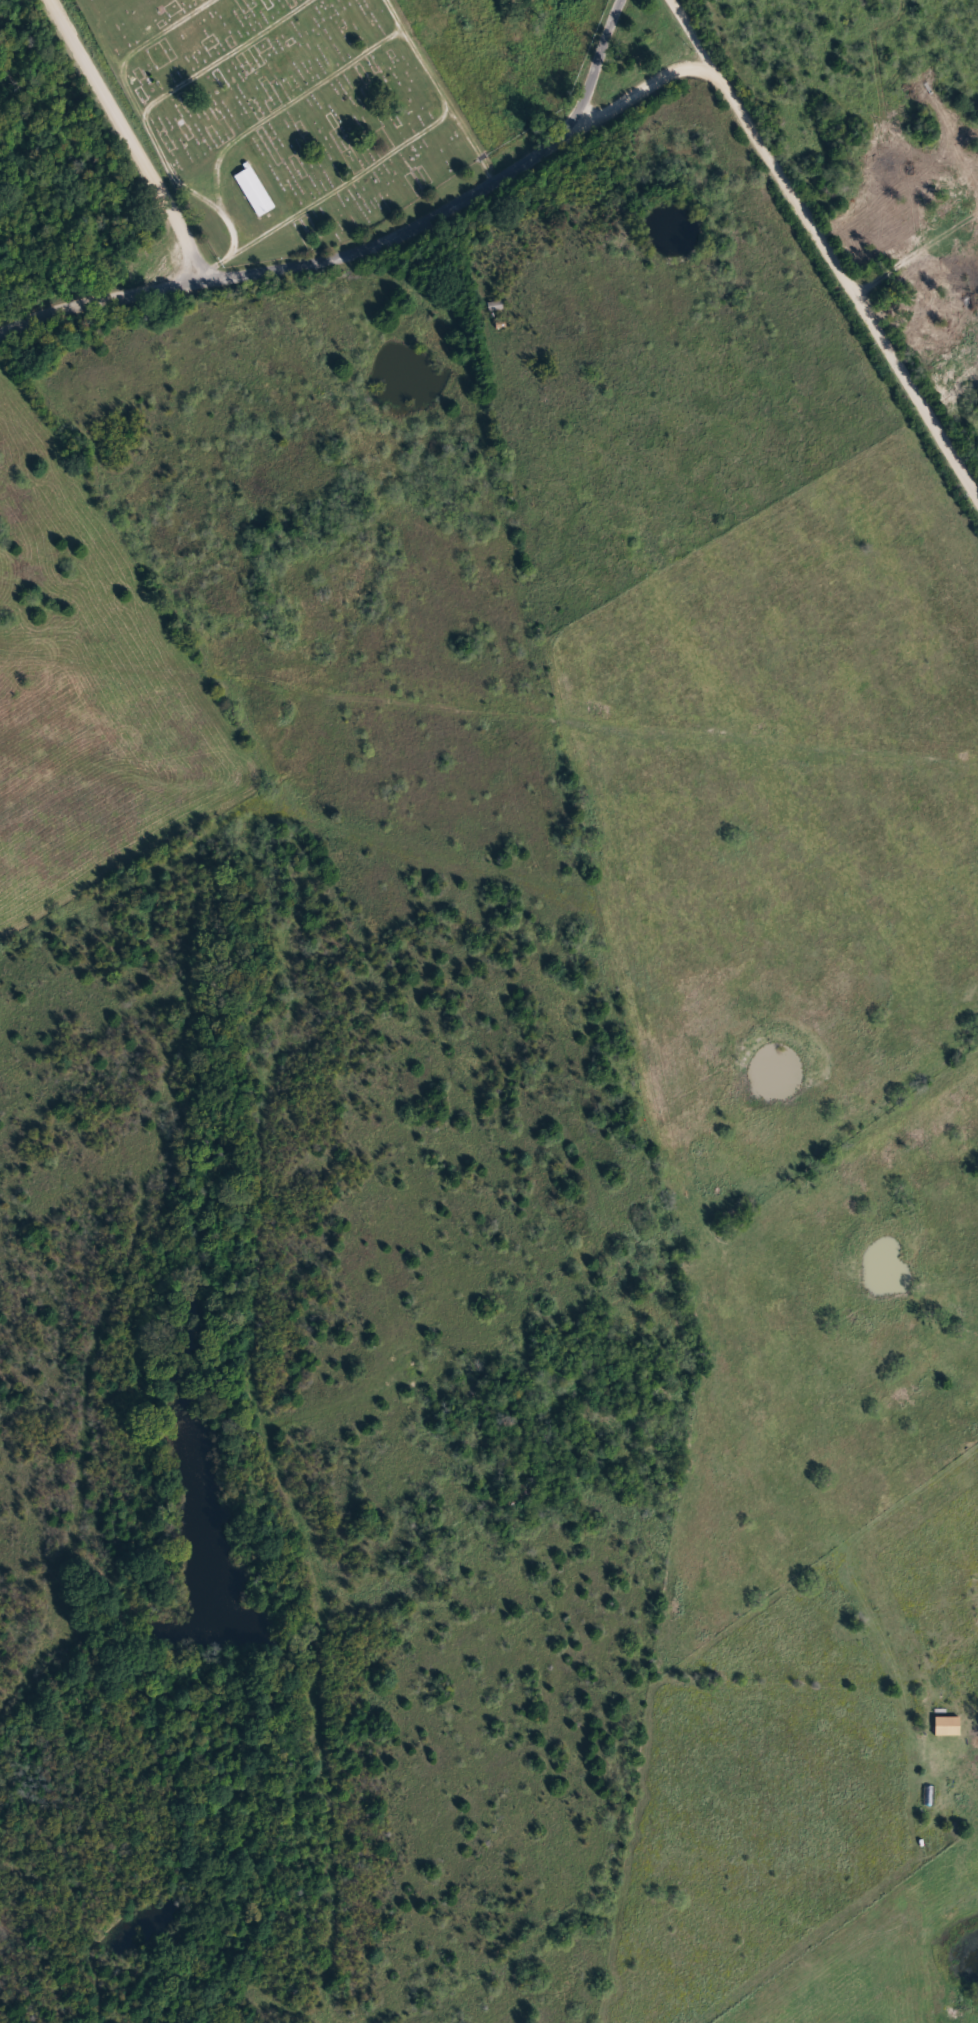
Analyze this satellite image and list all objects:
road: (613, 21)
road: (415, 50)
road: (586, 90)
road: (638, 90)
road: (286, 98)
park: (291, 109)
road: (129, 137)
road: (469, 144)
building: (255, 191)
road: (209, 196)
road: (393, 238)
road: (828, 245)
road: (226, 262)
road: (97, 294)
building: (496, 305)
building: (947, 1726)

